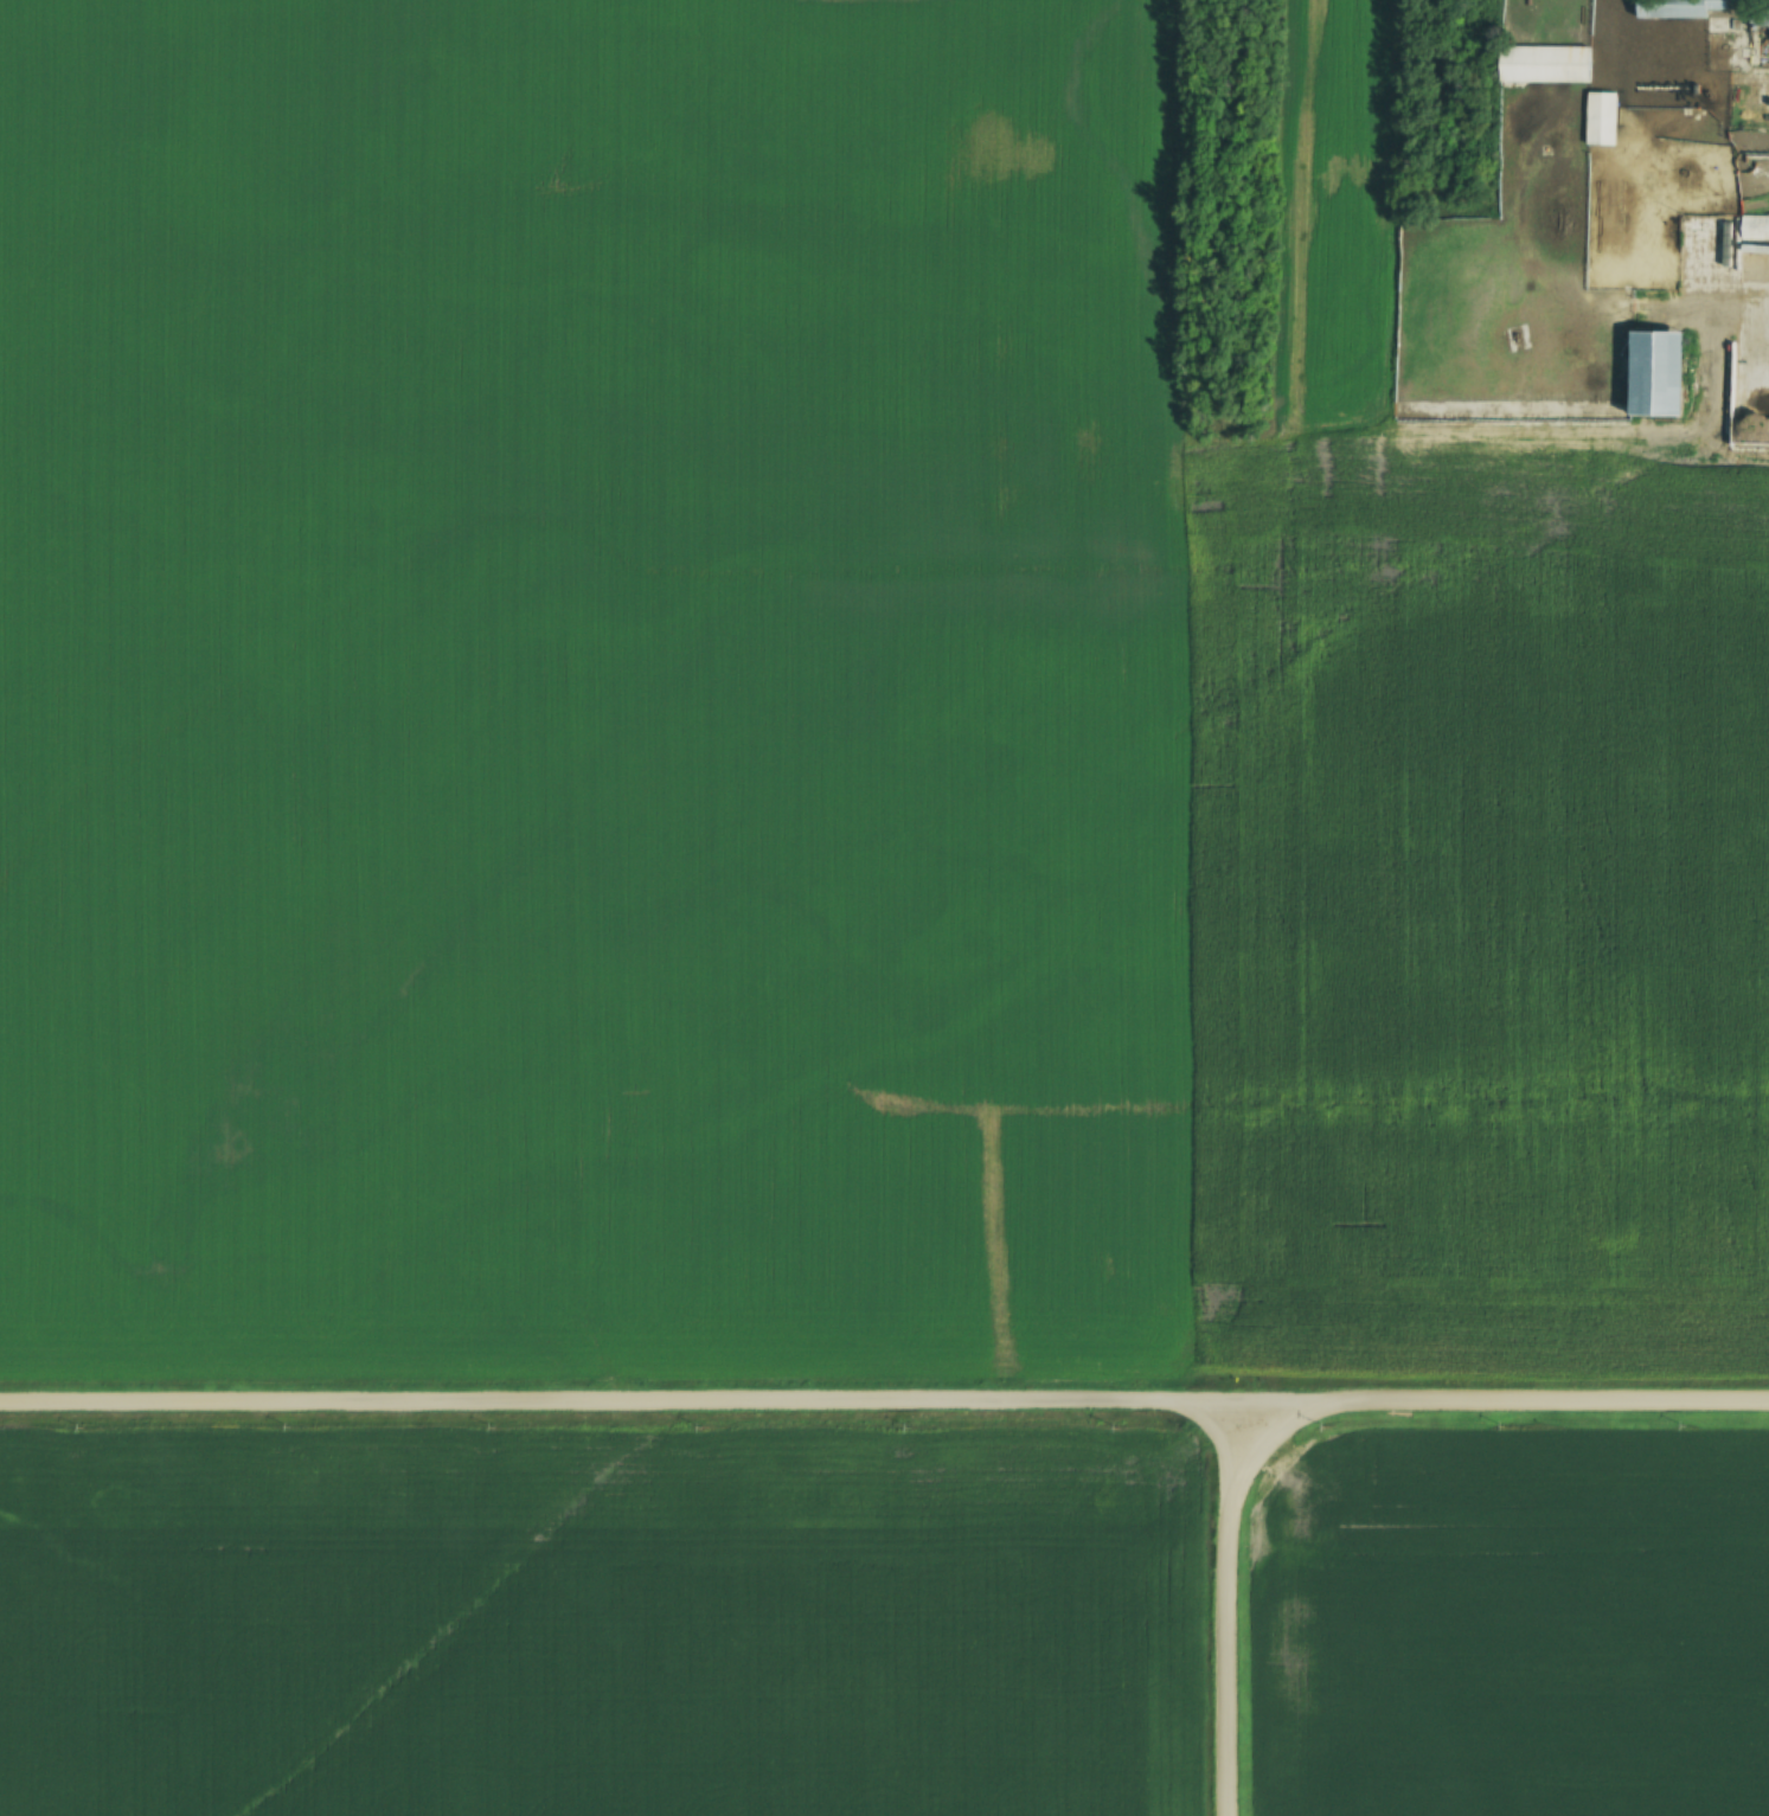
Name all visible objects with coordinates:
building: (1674, 7)
building: (1761, 17)
building: (1543, 63)
building: (1598, 127)
building: (1746, 238)
building: (1651, 372)
road: (884, 1399)
road: (1228, 1608)

